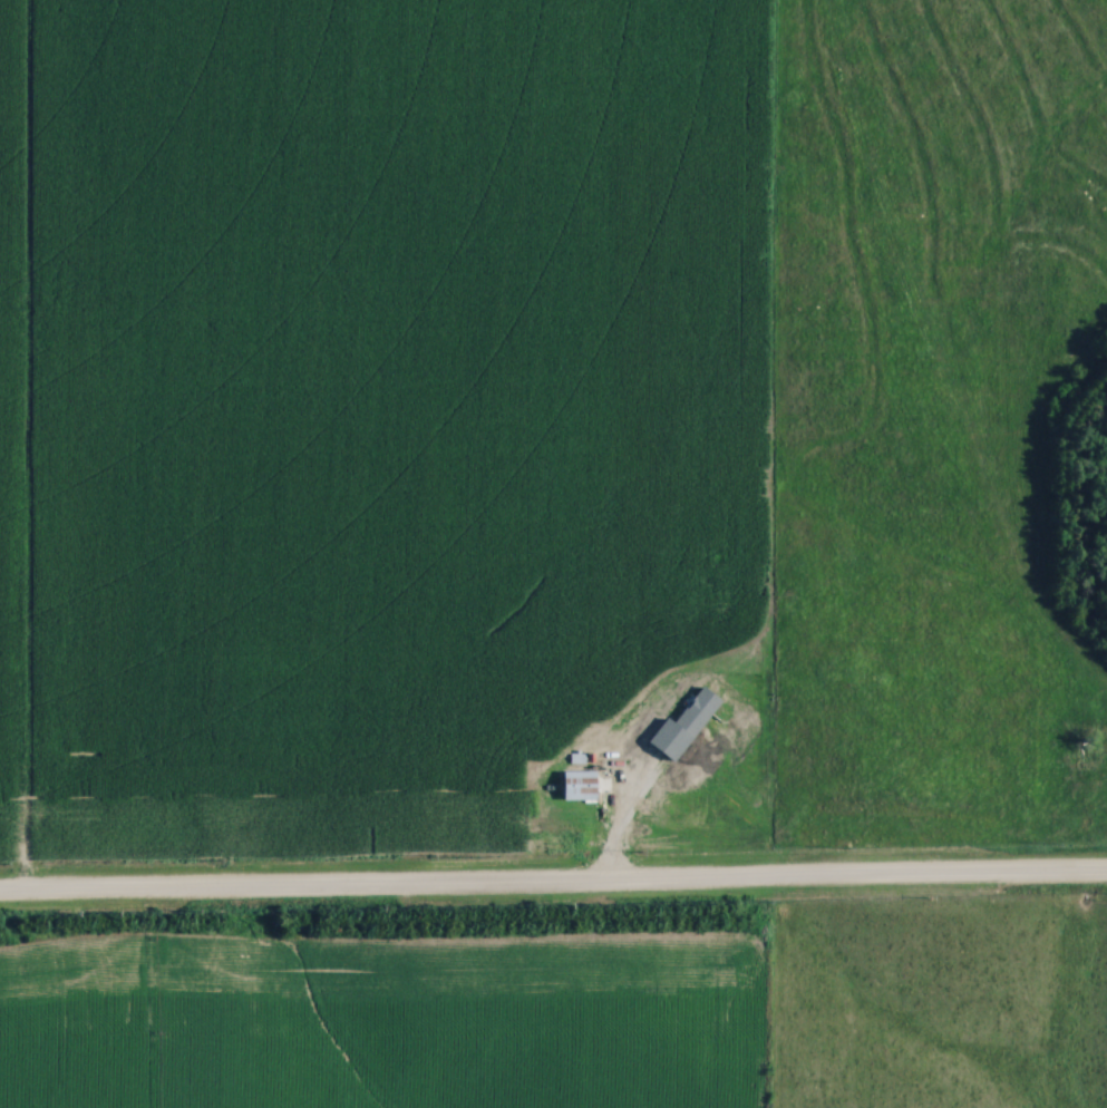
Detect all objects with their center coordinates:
road: (10, 638)
road: (553, 887)

